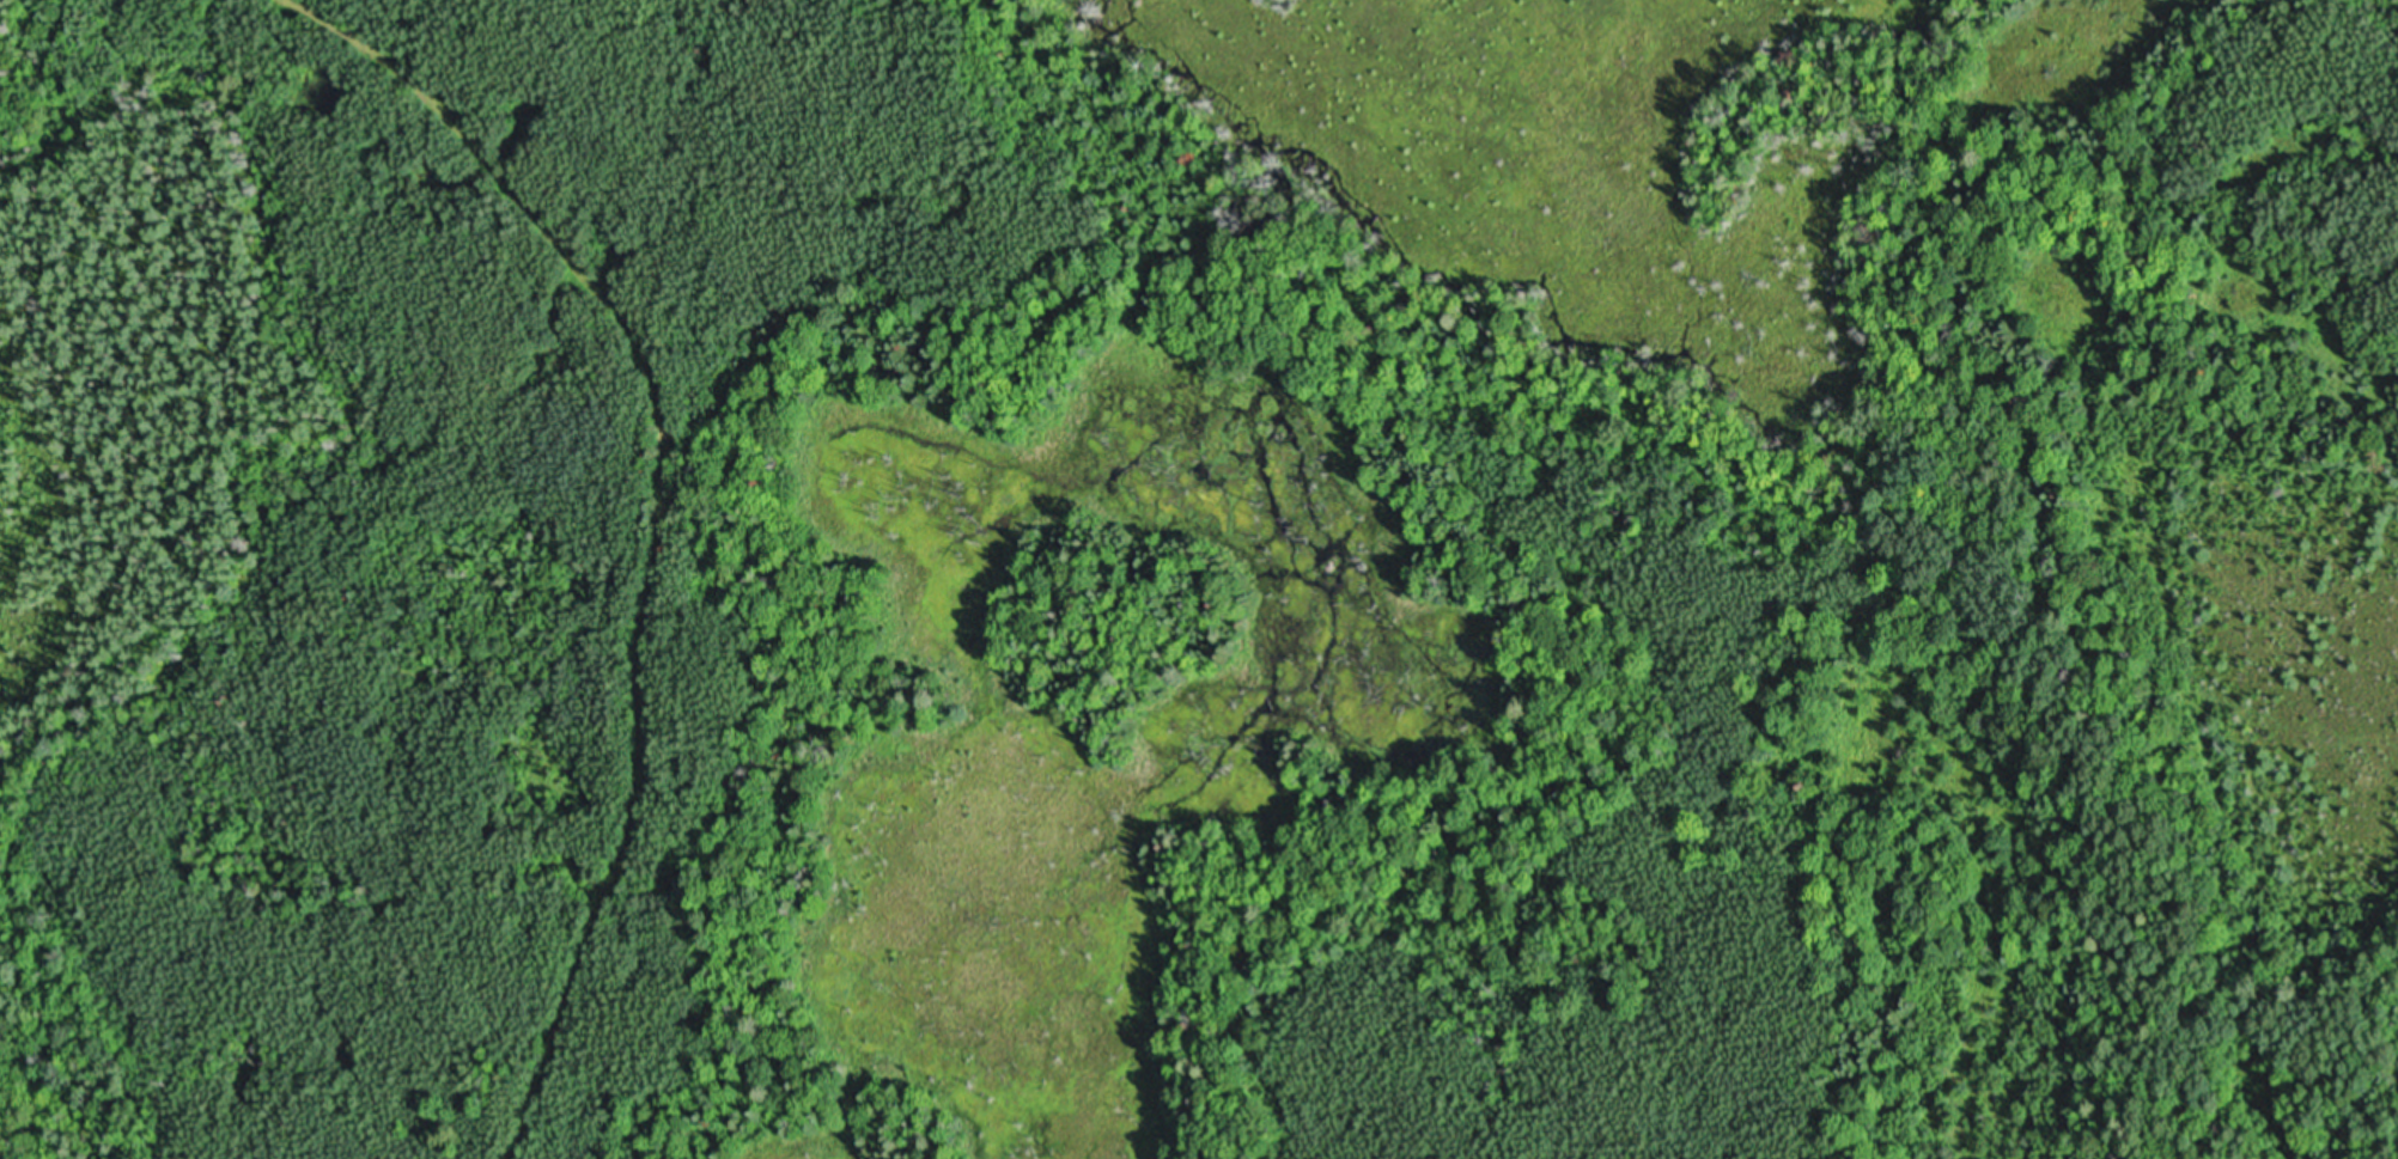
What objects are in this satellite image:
road: (596, 527)

